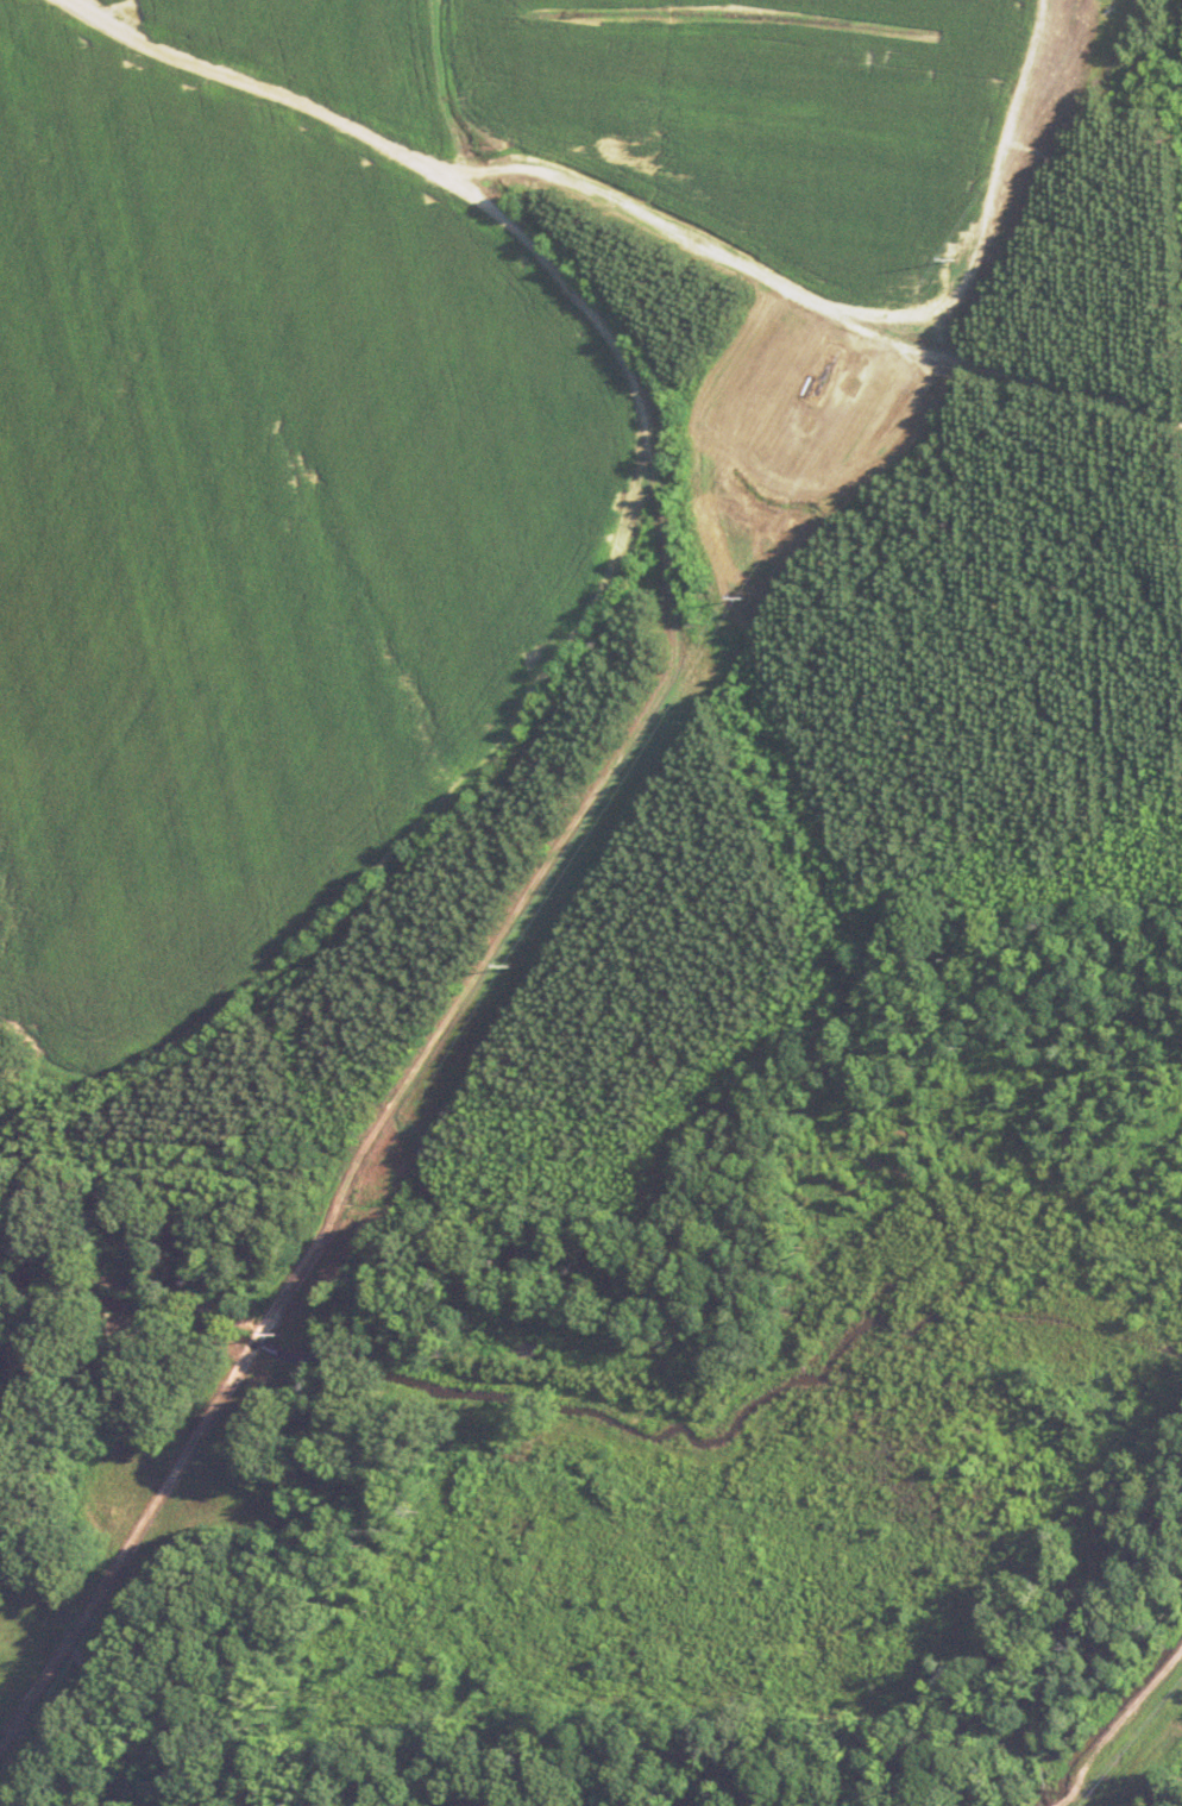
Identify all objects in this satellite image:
road: (245, 77)

